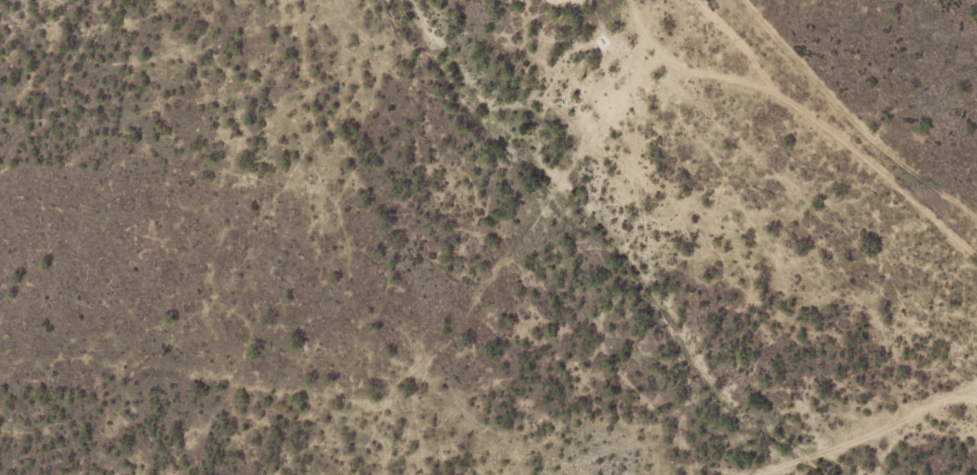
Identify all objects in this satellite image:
road: (836, 119)

